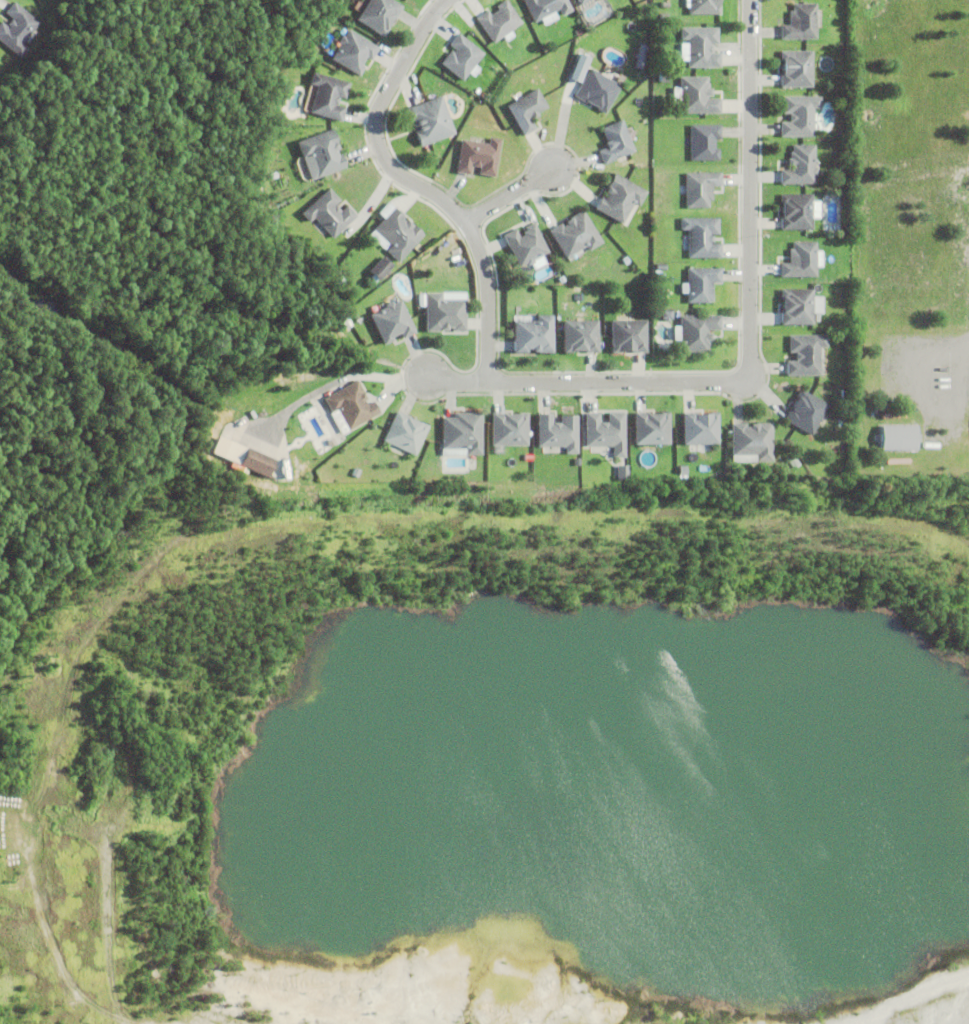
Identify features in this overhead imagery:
building: (580, 1)
building: (702, 6)
building: (546, 7)
building: (379, 14)
building: (499, 21)
building: (799, 21)
building: (16, 28)
building: (698, 46)
building: (353, 51)
building: (461, 57)
building: (795, 68)
building: (597, 89)
building: (328, 95)
building: (694, 95)
building: (527, 109)
building: (798, 115)
building: (429, 121)
building: (703, 141)
building: (615, 142)
building: (320, 153)
building: (479, 156)
building: (800, 165)
road: (415, 186)
building: (699, 187)
road: (505, 197)
building: (619, 198)
building: (796, 211)
building: (328, 213)
building: (395, 232)
building: (576, 234)
building: (700, 236)
building: (527, 246)
building: (801, 260)
building: (379, 269)
building: (700, 283)
building: (799, 306)
building: (444, 312)
building: (667, 315)
building: (392, 321)
building: (695, 332)
building: (533, 334)
building: (580, 335)
building: (629, 335)
road: (750, 349)
building: (805, 354)
building: (843, 393)
building: (350, 405)
building: (805, 412)
building: (651, 428)
building: (700, 428)
building: (510, 429)
building: (557, 431)
building: (464, 432)
building: (606, 432)
building: (406, 433)
building: (892, 438)
building: (752, 440)
building: (240, 455)
building: (619, 472)

